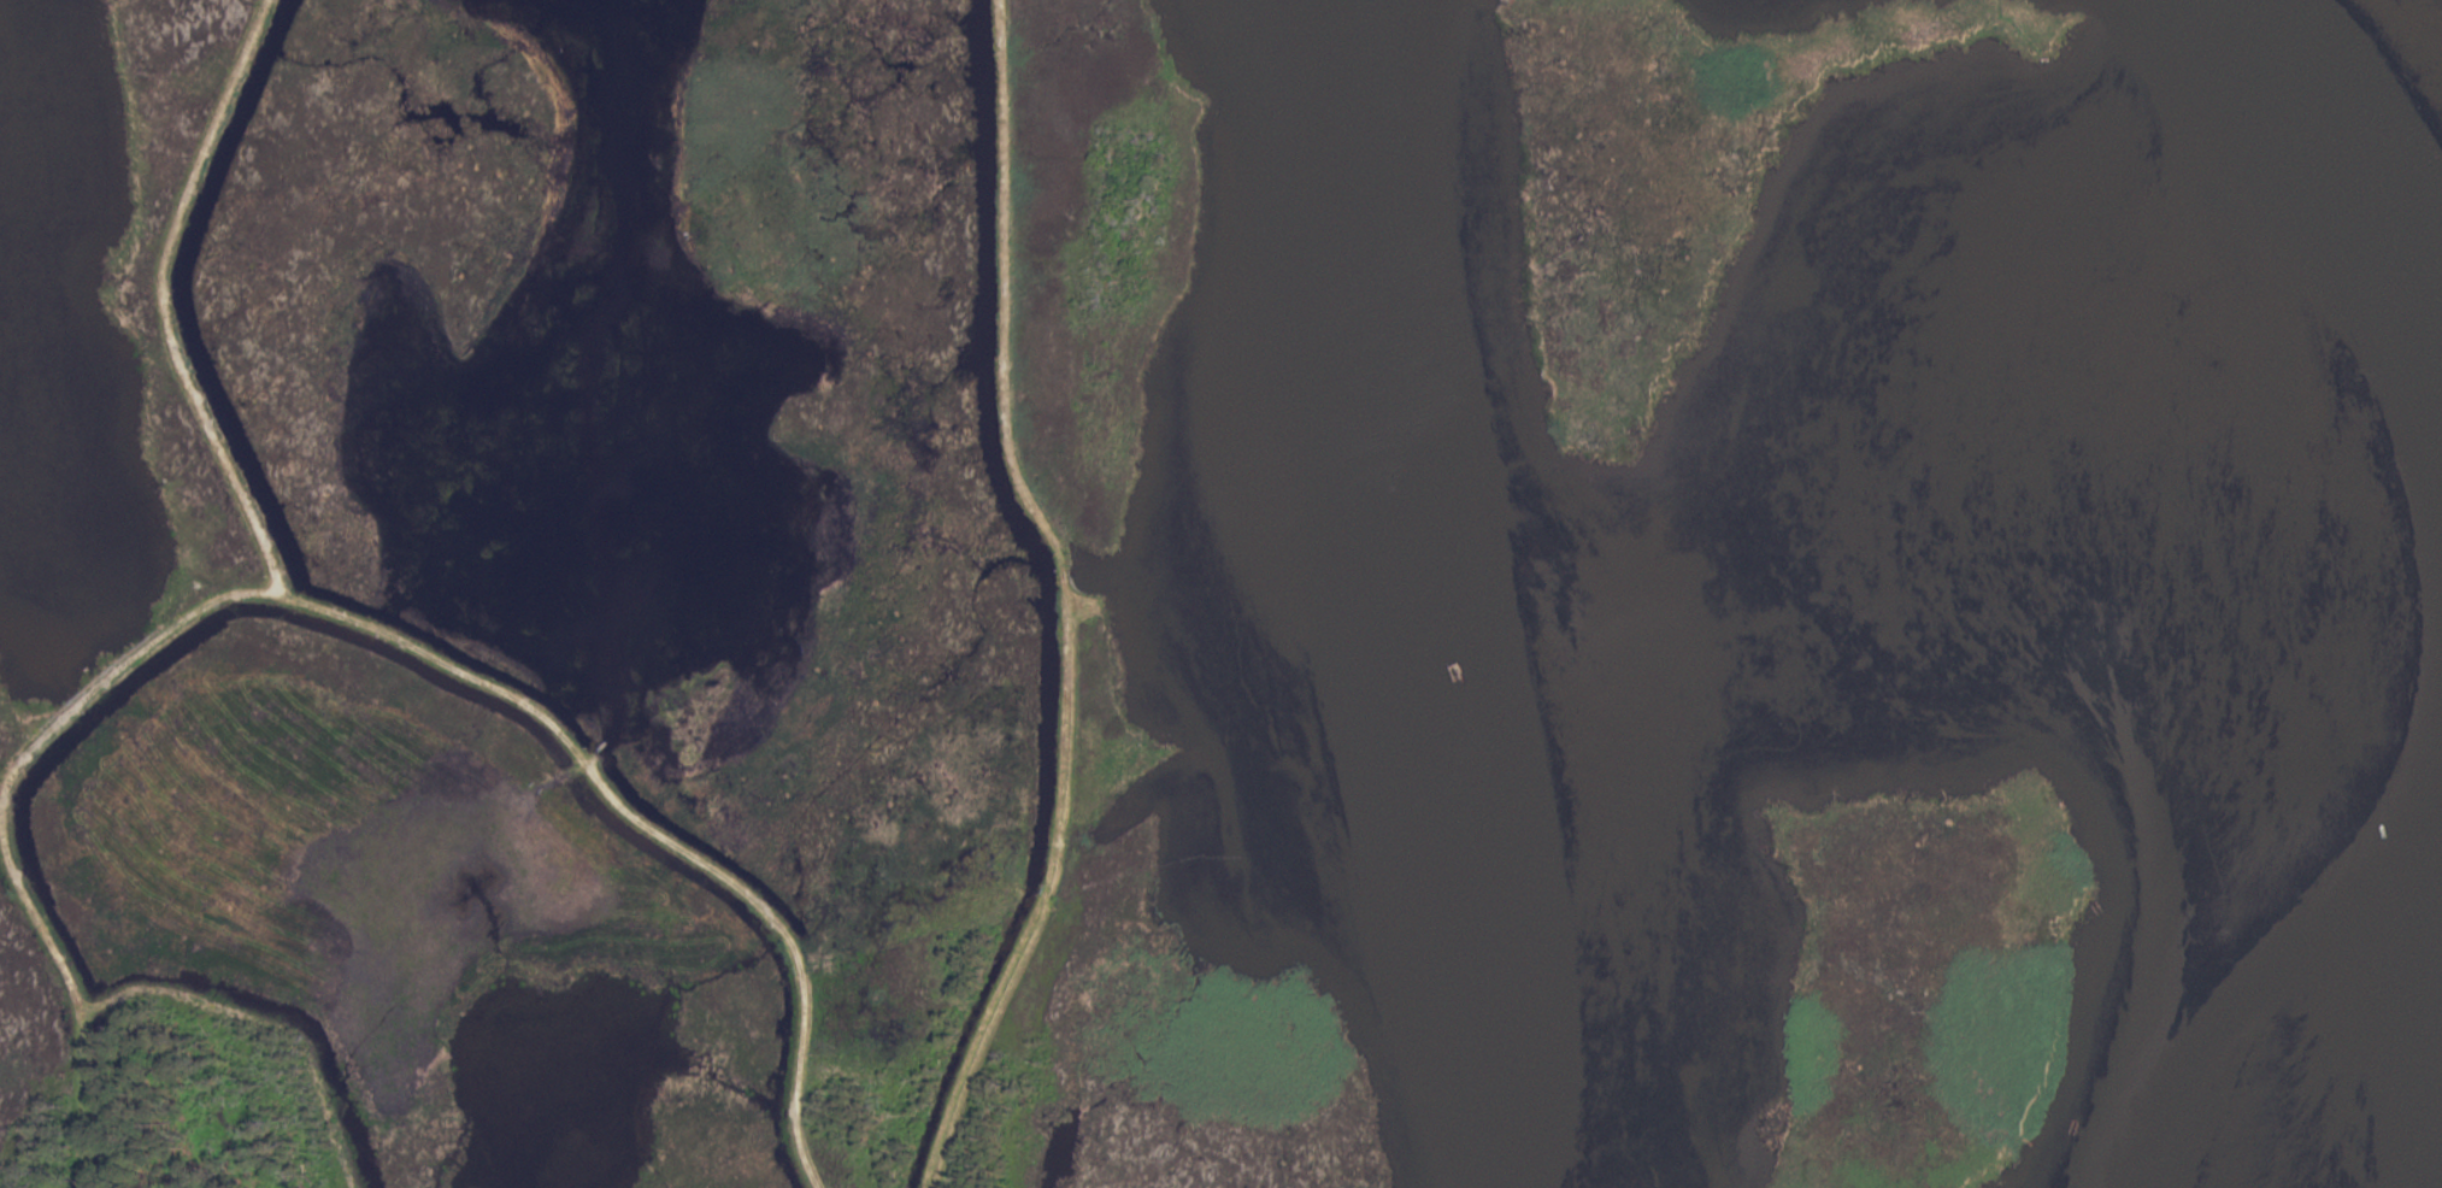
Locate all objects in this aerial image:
road: (228, 466)
road: (1066, 601)
road: (642, 827)
road: (77, 1007)

